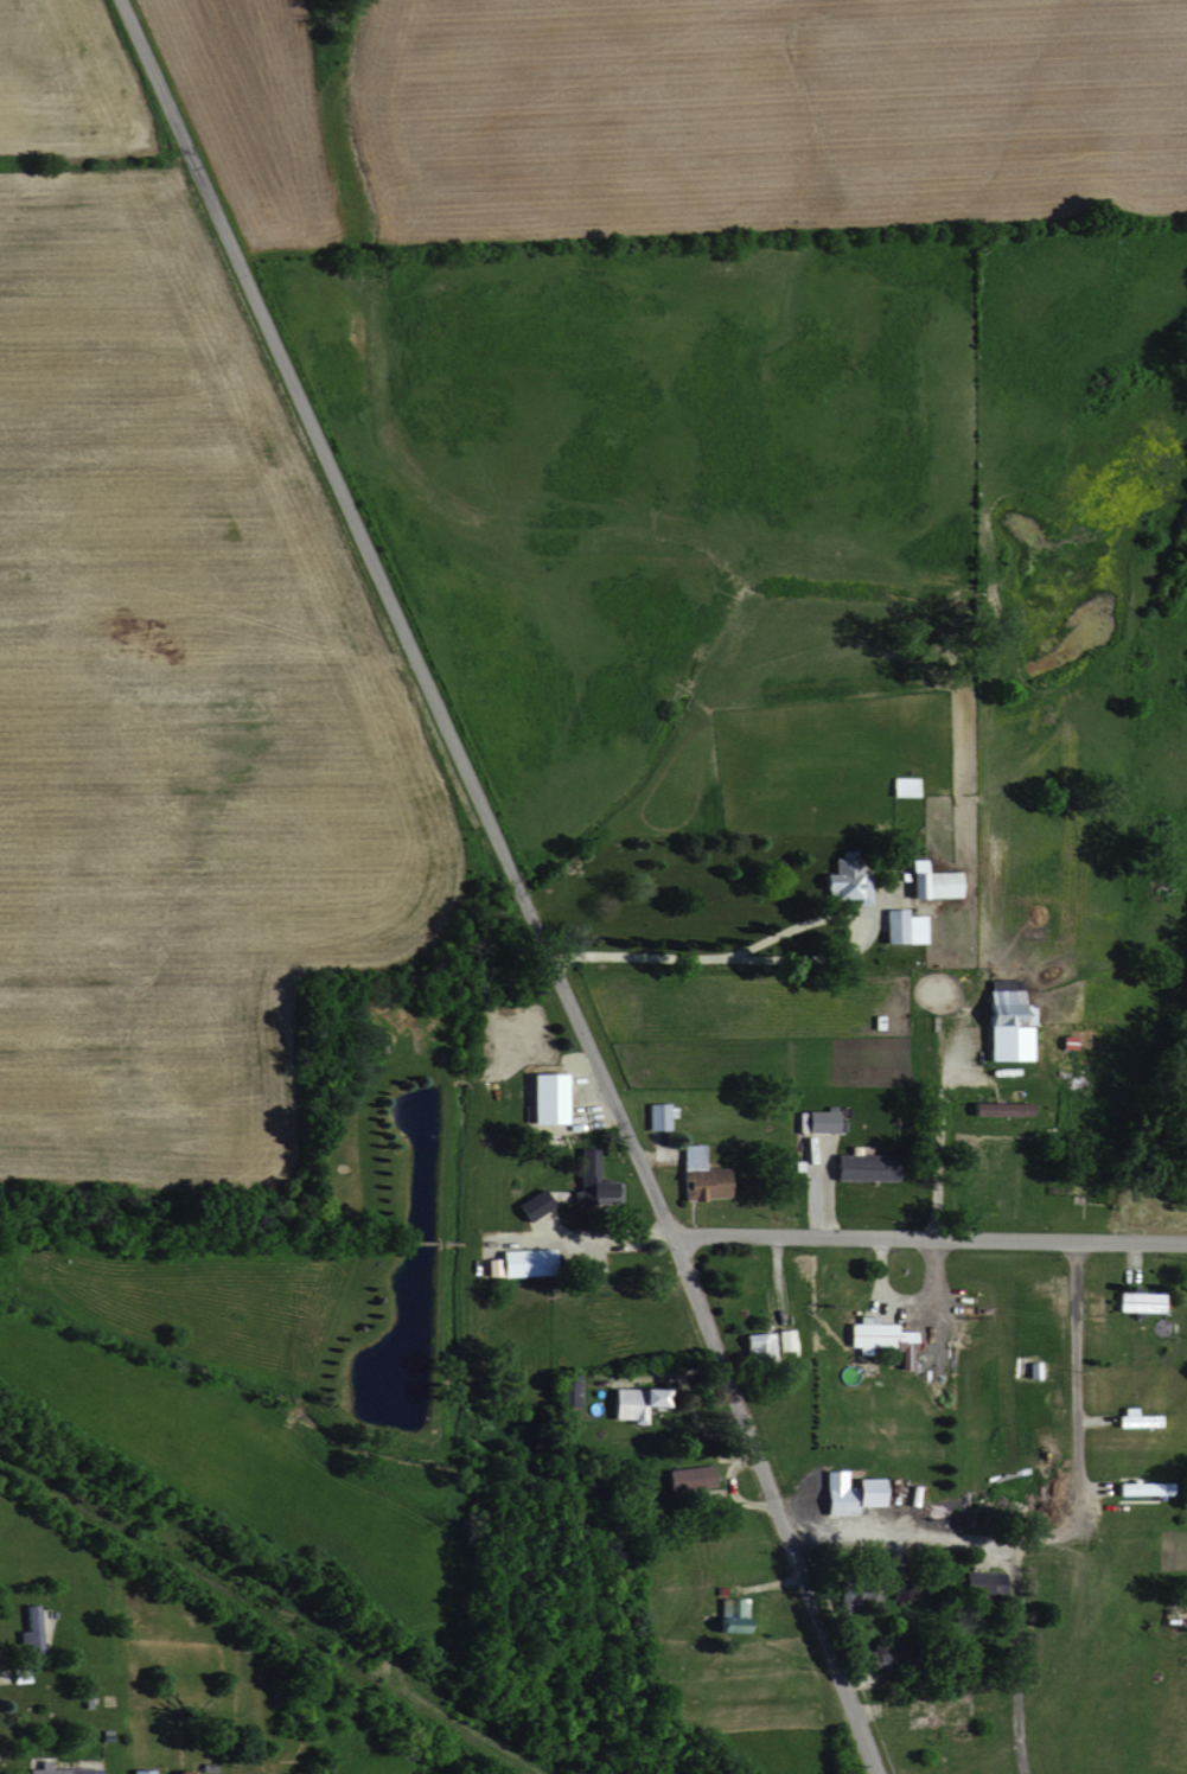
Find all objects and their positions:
road: (395, 617)
building: (900, 785)
building: (838, 880)
building: (927, 881)
road: (803, 925)
building: (898, 926)
road: (703, 958)
building: (1001, 1021)
building: (540, 1098)
building: (994, 1108)
building: (657, 1115)
building: (816, 1121)
road: (938, 1128)
building: (582, 1161)
building: (857, 1166)
building: (698, 1175)
building: (595, 1189)
road: (930, 1237)
building: (519, 1262)
building: (1136, 1301)
building: (784, 1339)
building: (876, 1339)
building: (760, 1345)
building: (566, 1392)
building: (627, 1403)
building: (1132, 1417)
building: (685, 1478)
building: (1136, 1487)
building: (845, 1491)
road: (768, 1505)
road: (1074, 1514)
road: (932, 1542)
building: (982, 1583)
building: (845, 1590)
building: (725, 1614)
building: (28, 1632)
road: (1013, 1638)
road: (280, 1763)
building: (55, 1769)
building: (135, 1770)

